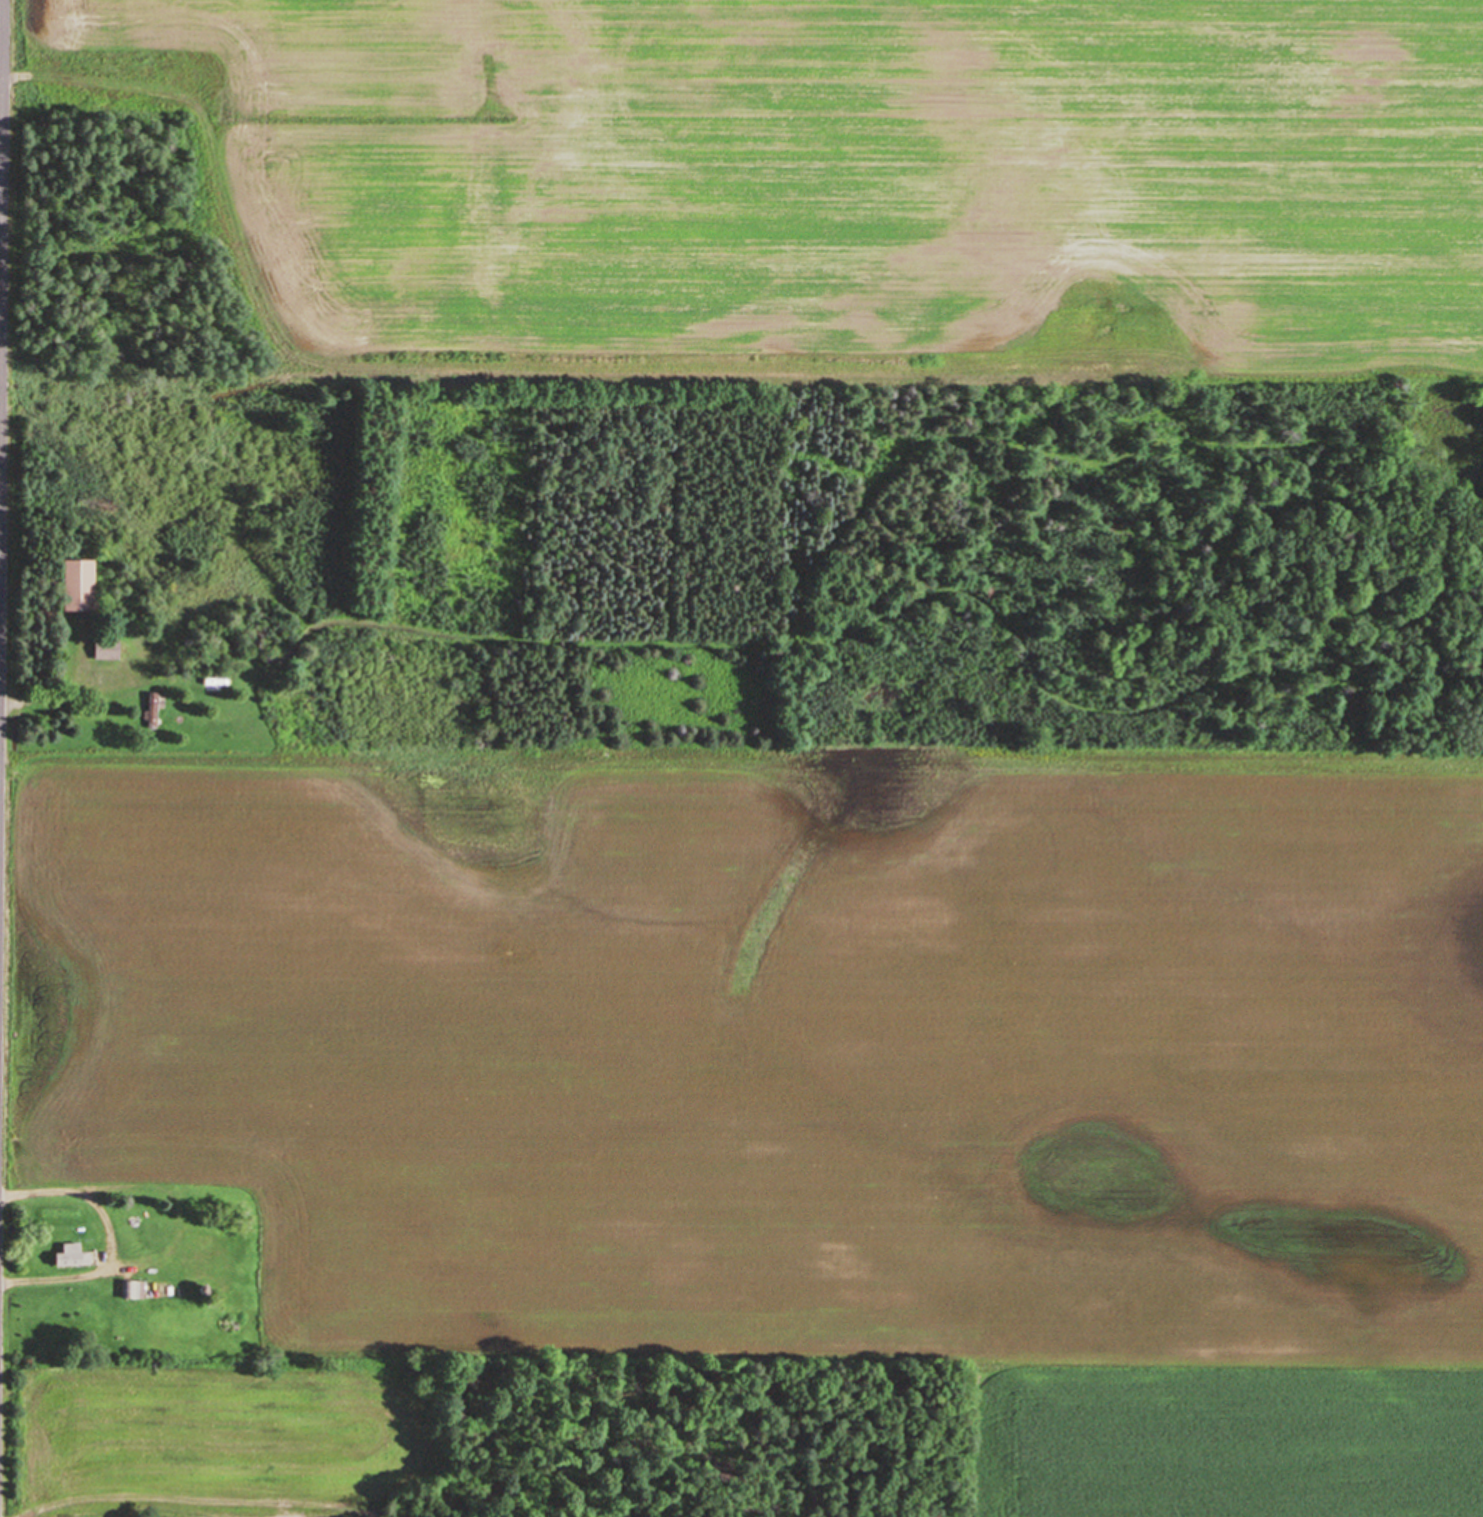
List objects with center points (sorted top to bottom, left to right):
road: (0, 9)
building: (82, 586)
building: (110, 650)
road: (45, 699)
building: (155, 709)
road: (111, 1236)
building: (75, 1254)

